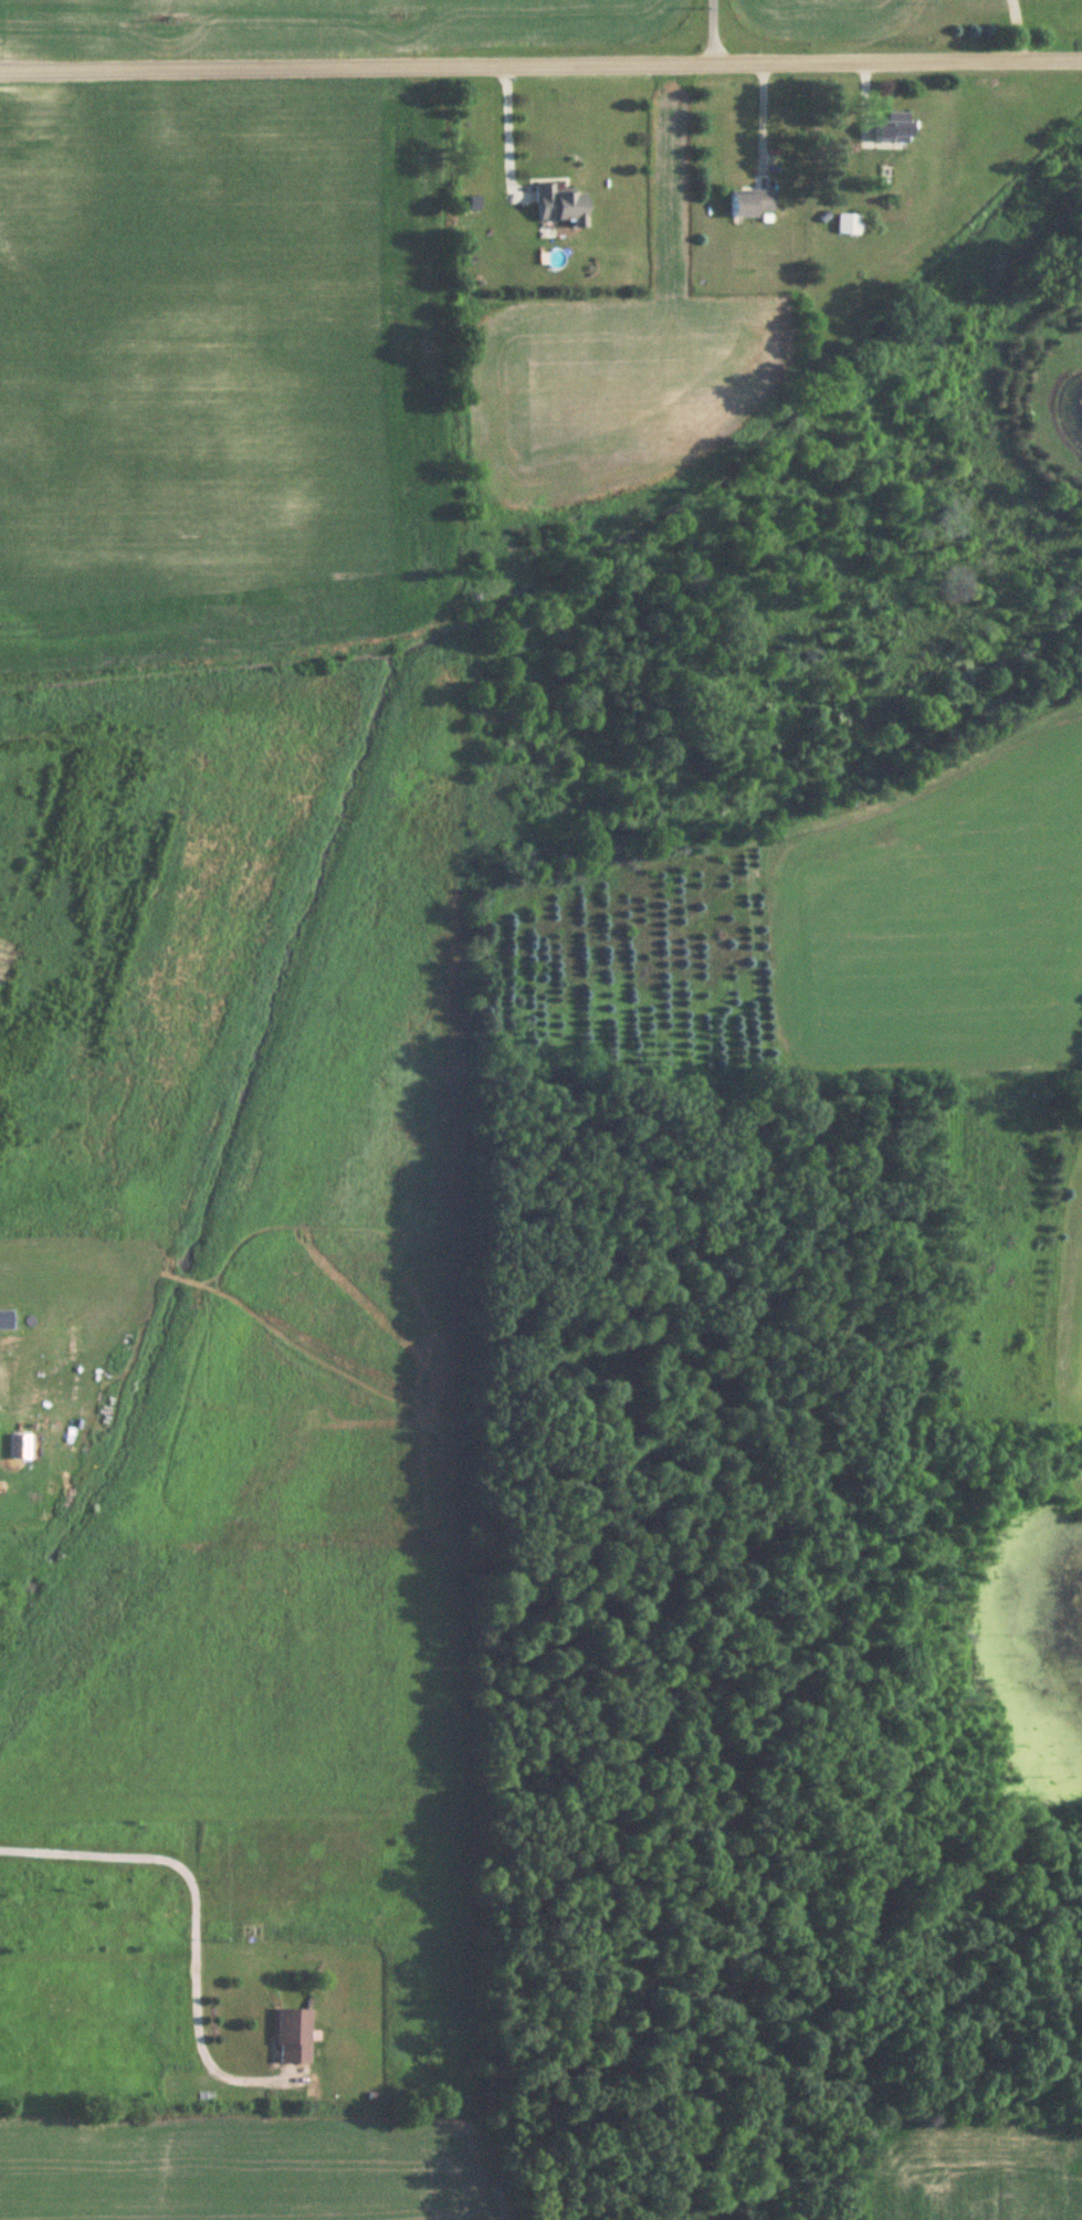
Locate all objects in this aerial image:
road: (710, 29)
road: (540, 59)
road: (761, 113)
road: (505, 127)
building: (897, 128)
building: (752, 203)
building: (561, 207)
building: (847, 224)
road: (196, 1913)
building: (295, 2037)

